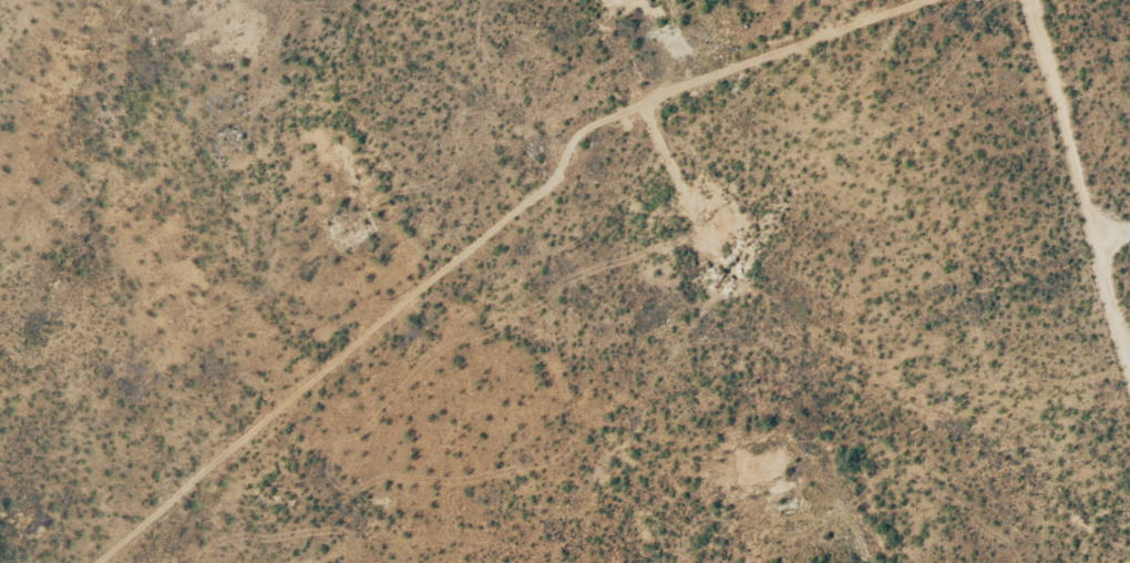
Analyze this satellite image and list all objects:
road: (1085, 180)

